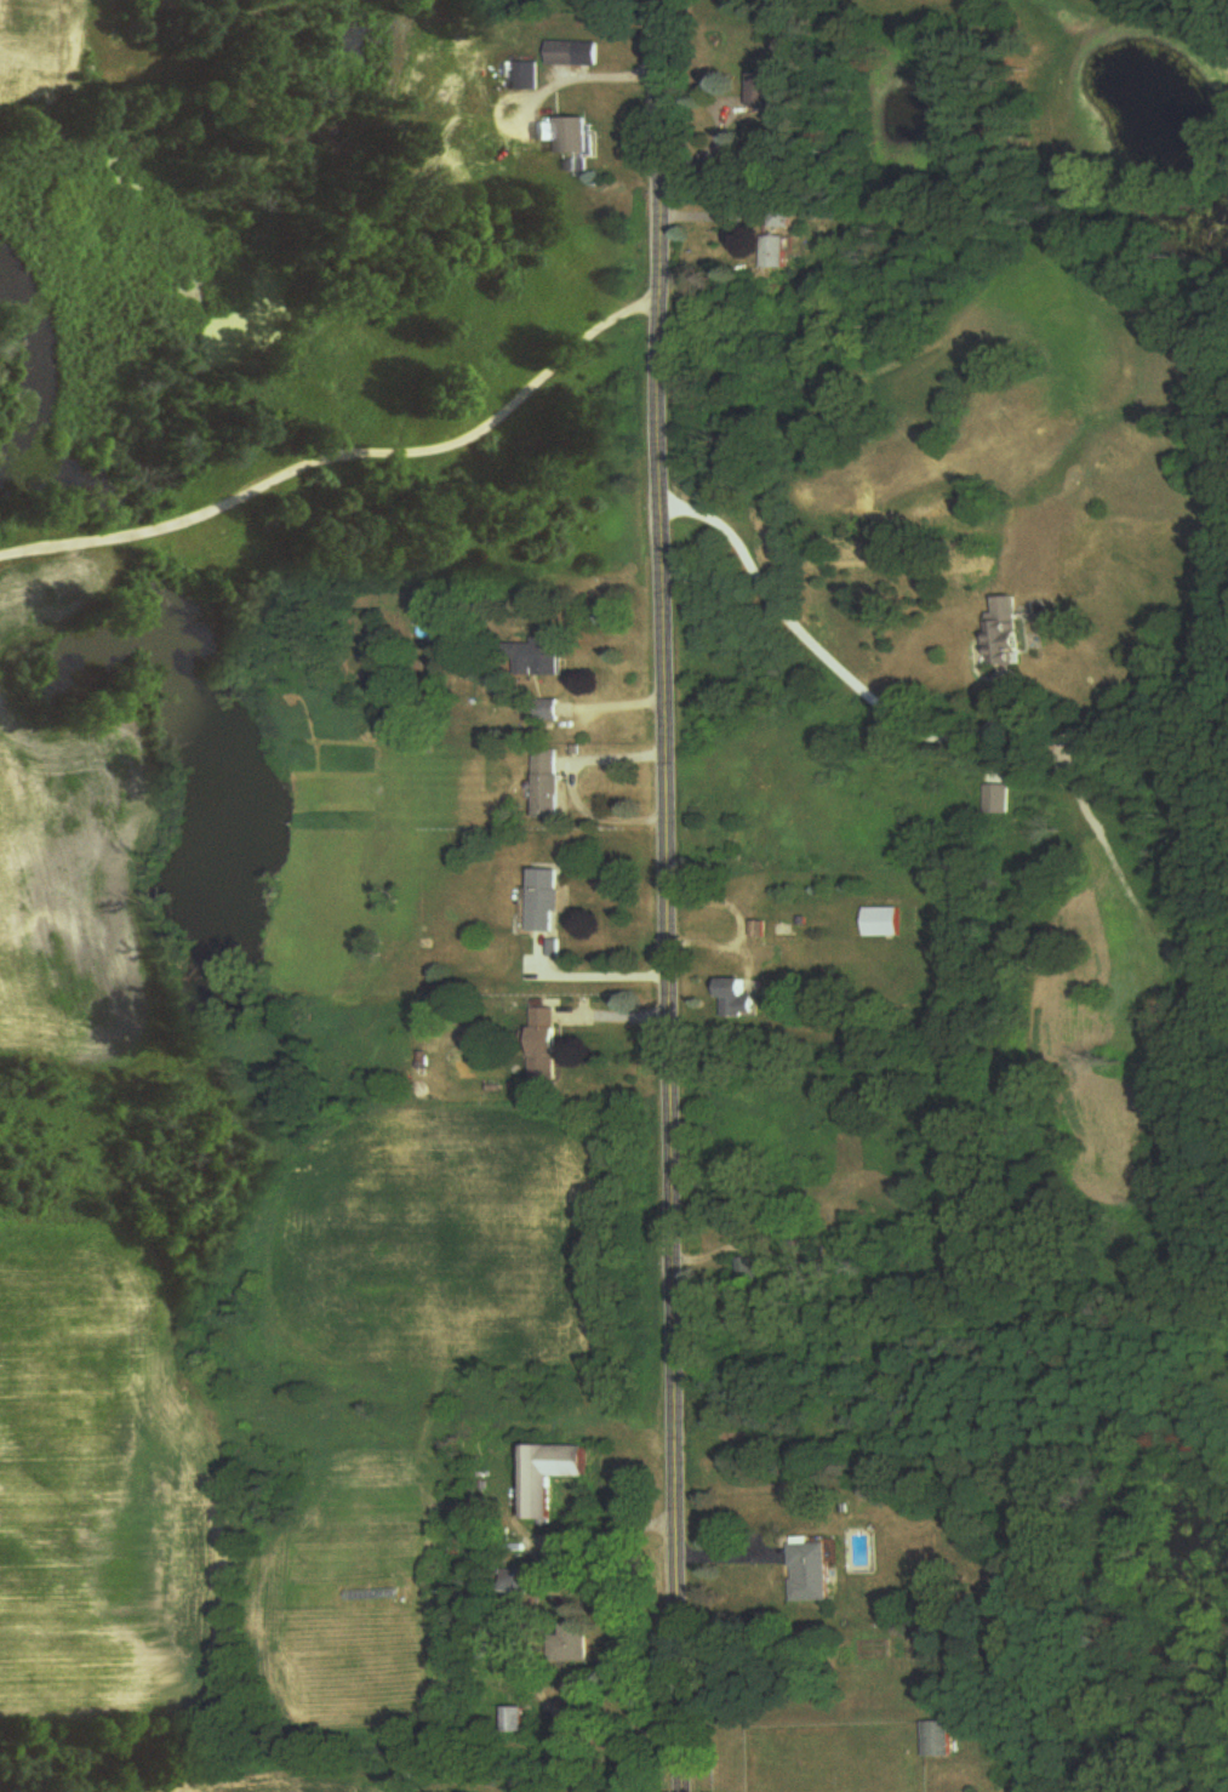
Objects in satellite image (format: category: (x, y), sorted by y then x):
building: (170, 5)
building: (572, 55)
building: (525, 76)
road: (570, 80)
building: (765, 90)
building: (572, 137)
building: (779, 217)
building: (776, 255)
road: (344, 455)
building: (1010, 635)
road: (824, 656)
building: (541, 660)
building: (550, 713)
building: (549, 786)
road: (667, 895)
building: (547, 902)
building: (885, 924)
road: (593, 976)
building: (741, 999)
building: (547, 1045)
building: (748, 1272)
building: (550, 1477)
building: (816, 1574)
building: (516, 1586)
building: (575, 1644)
building: (516, 1720)
building: (938, 1740)
building: (417, 1770)

